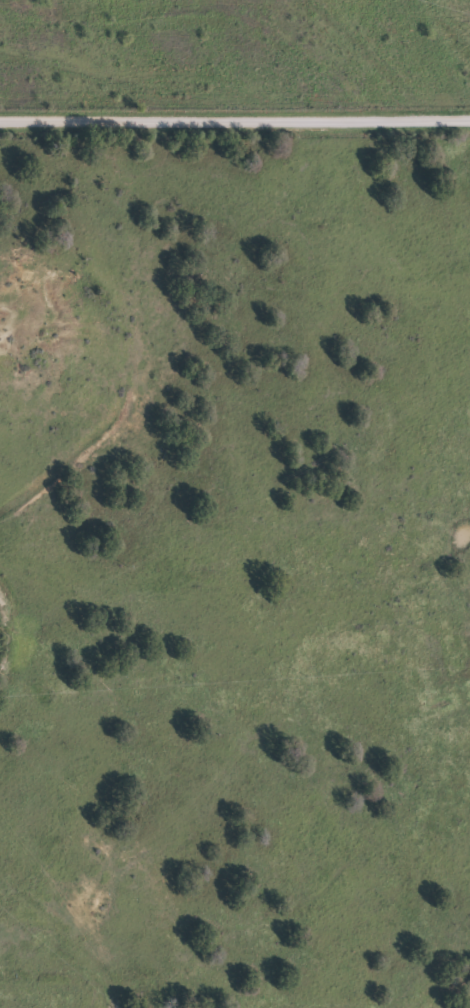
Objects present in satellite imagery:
road: (234, 121)

